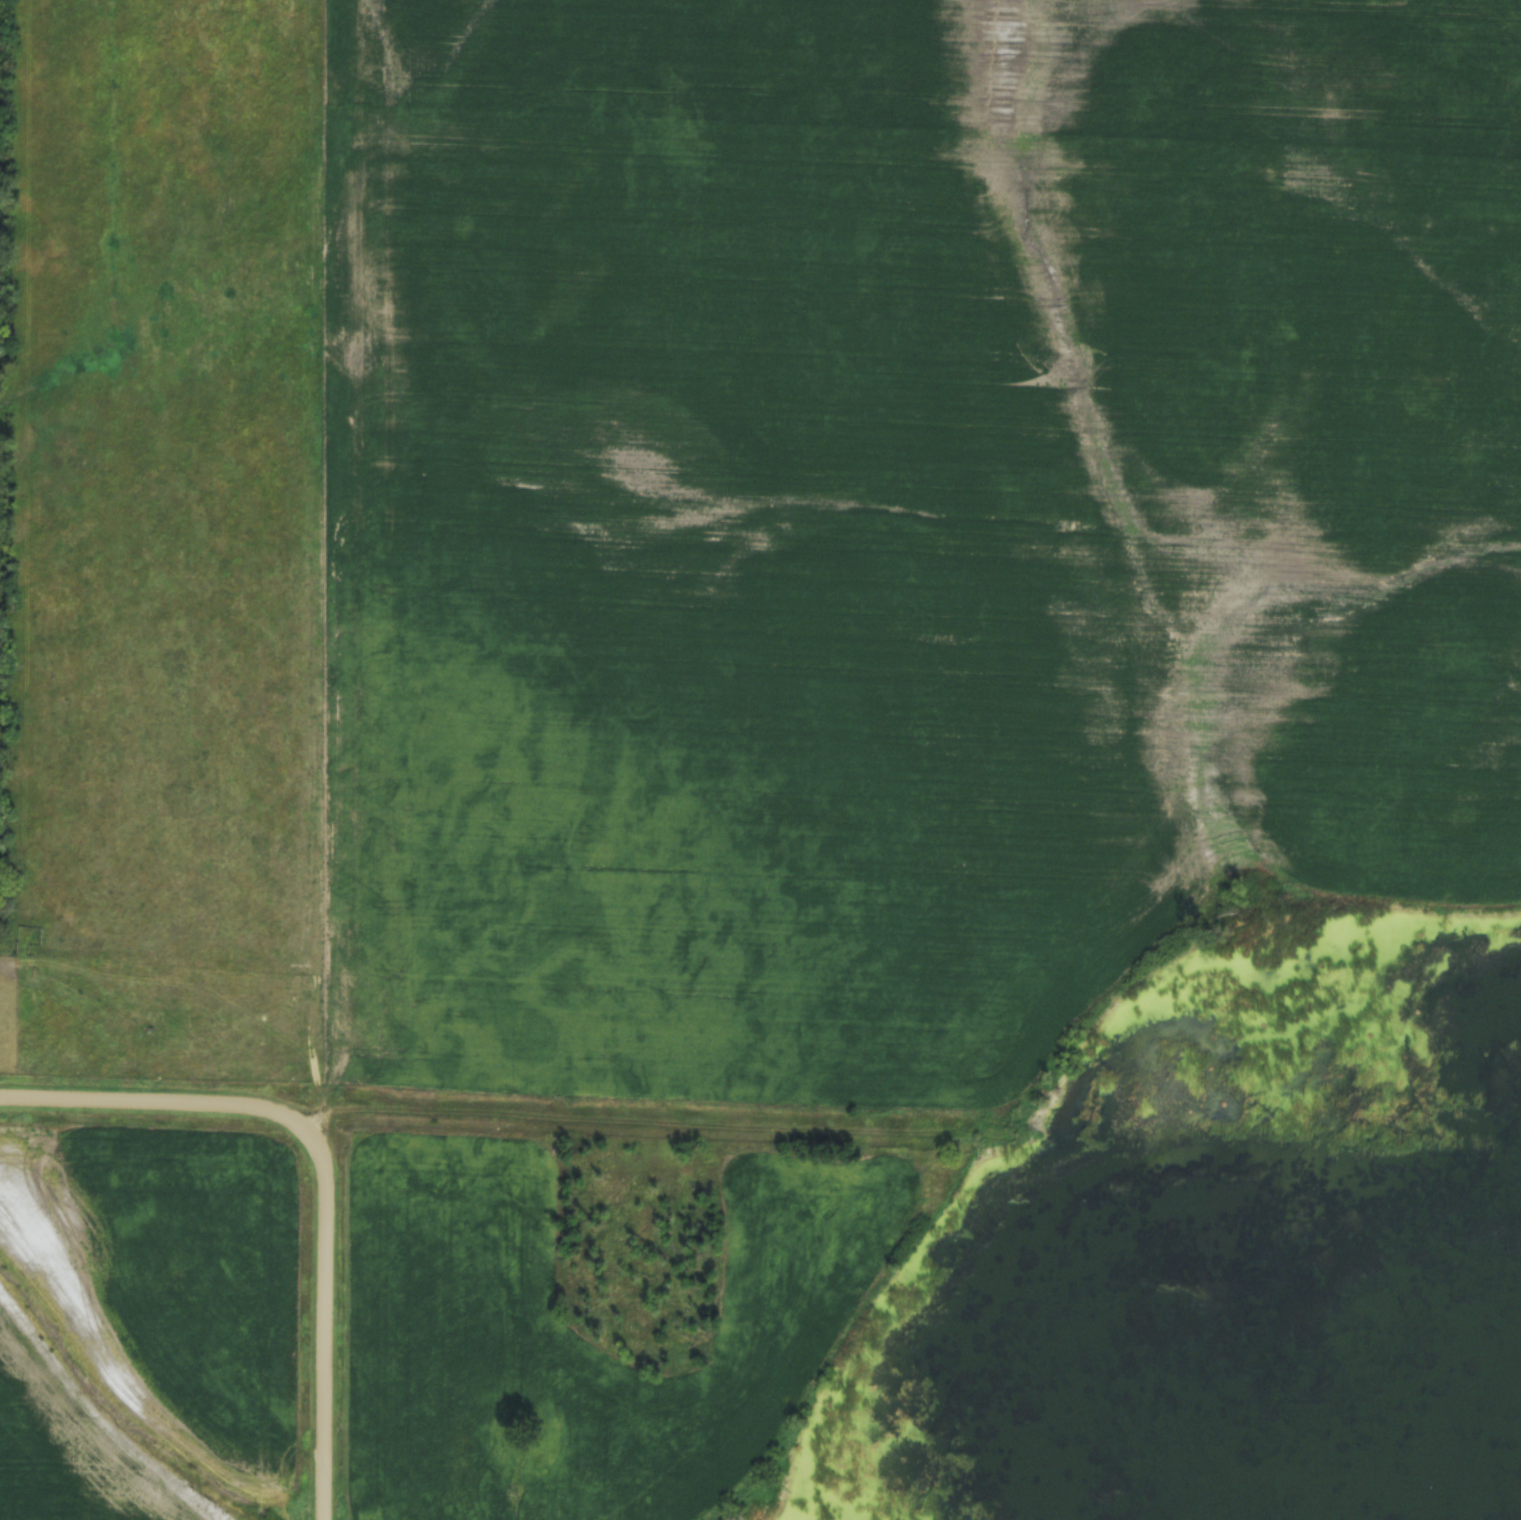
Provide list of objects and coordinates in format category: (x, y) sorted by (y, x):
road: (162, 1102)
road: (636, 1120)
road: (325, 1314)

